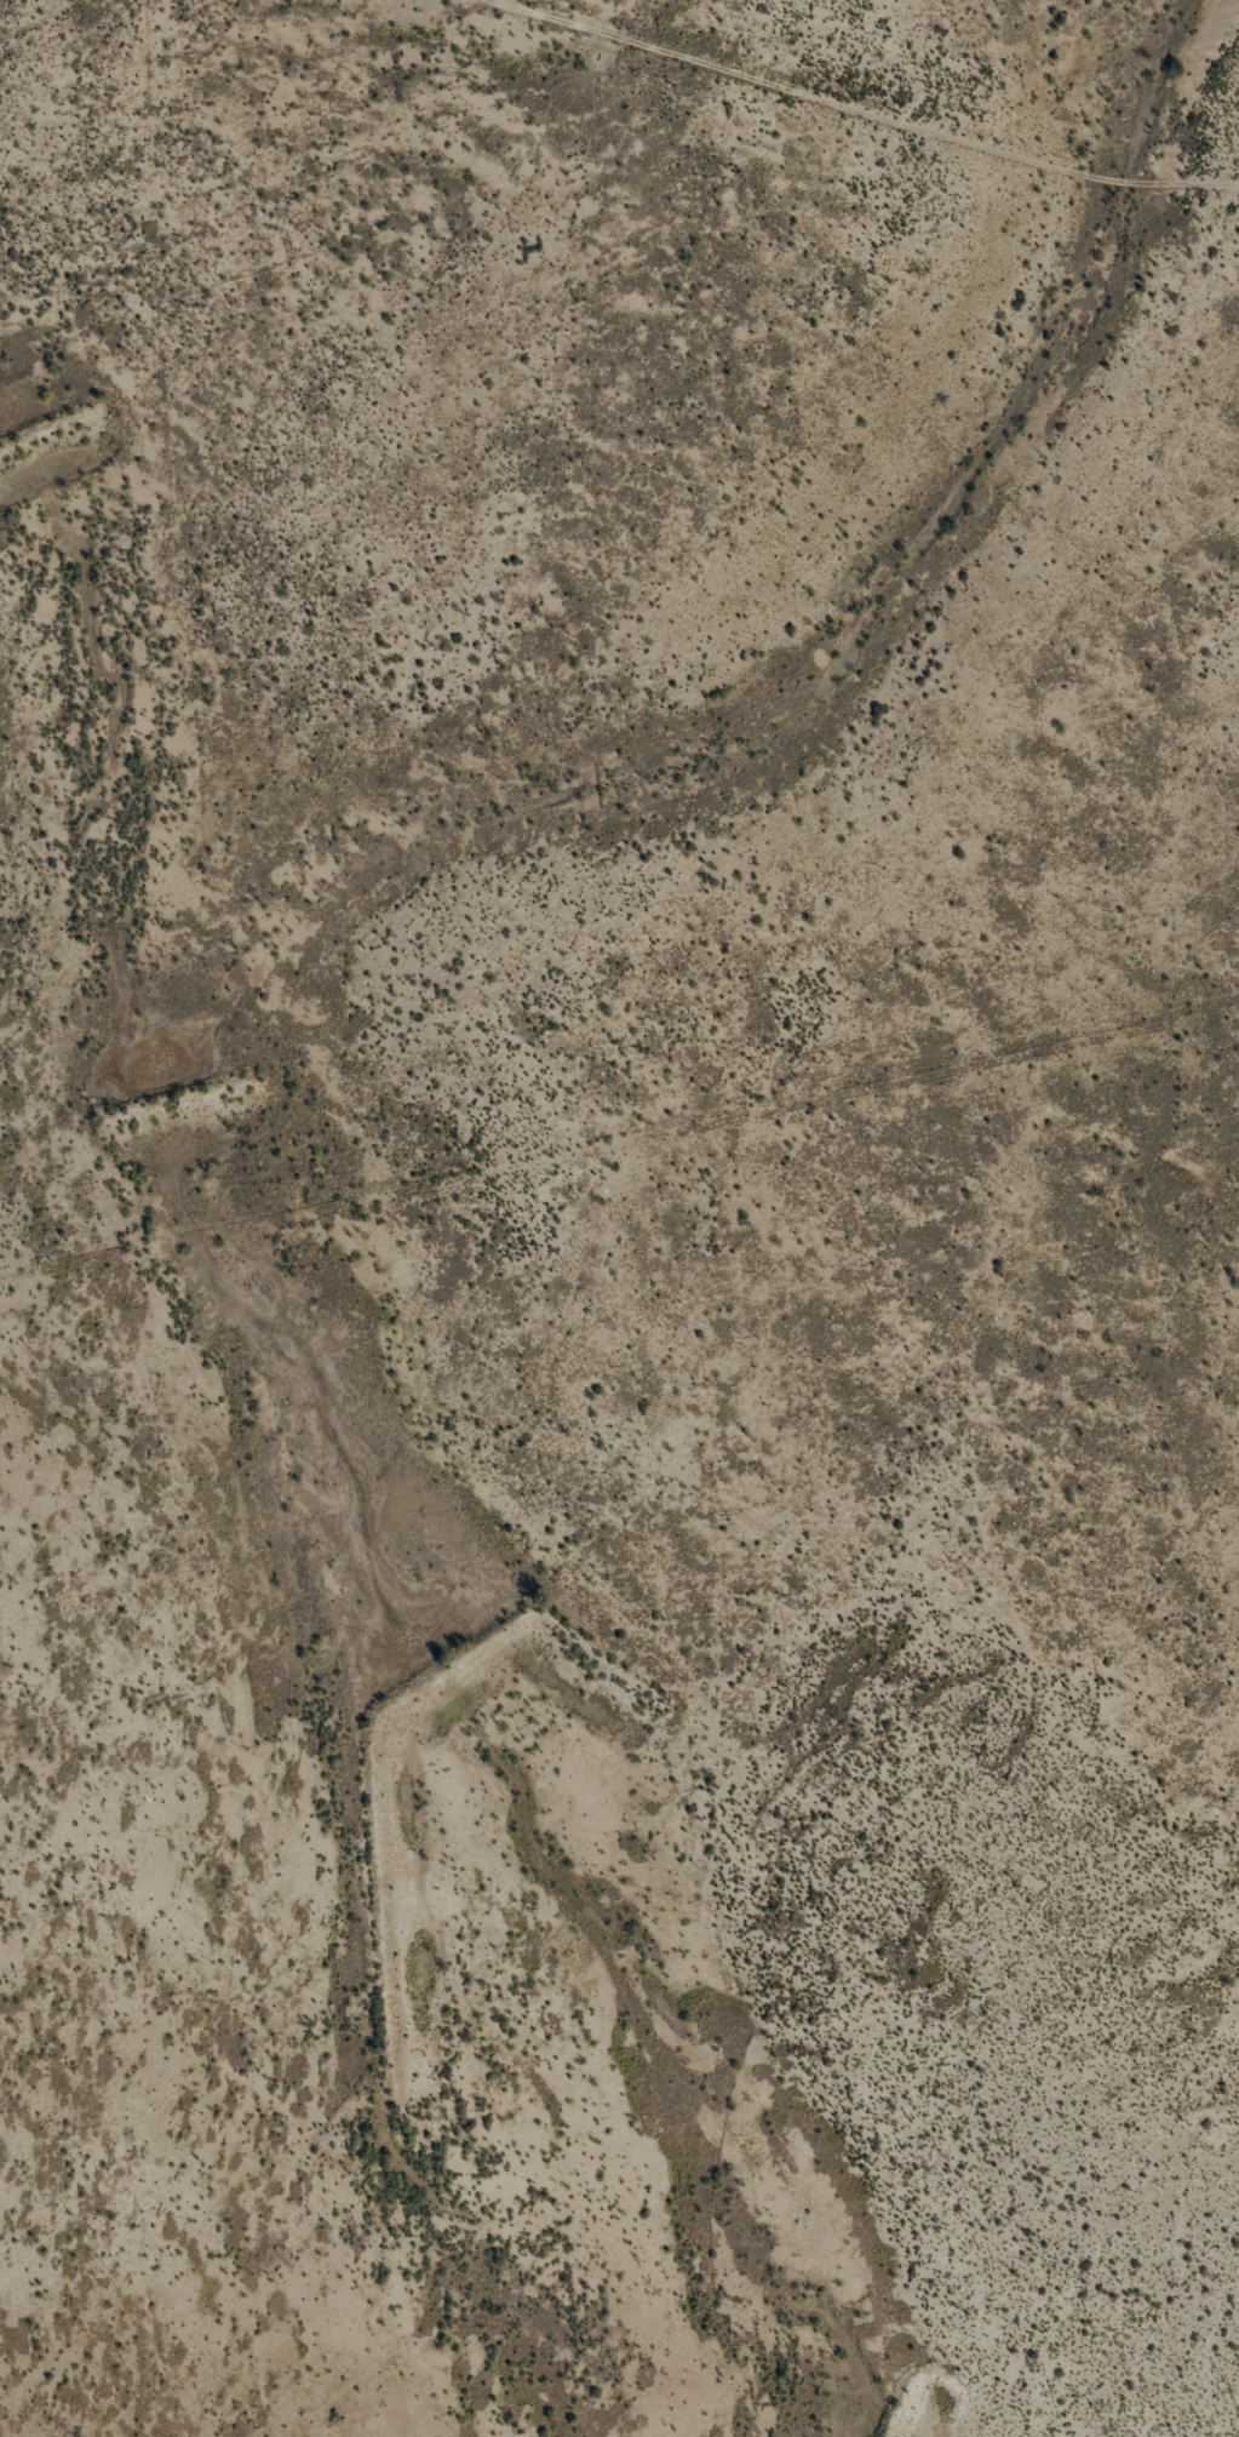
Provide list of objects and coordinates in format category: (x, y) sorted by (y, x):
road: (39, 11)
road: (44, 36)
road: (1032, 68)

